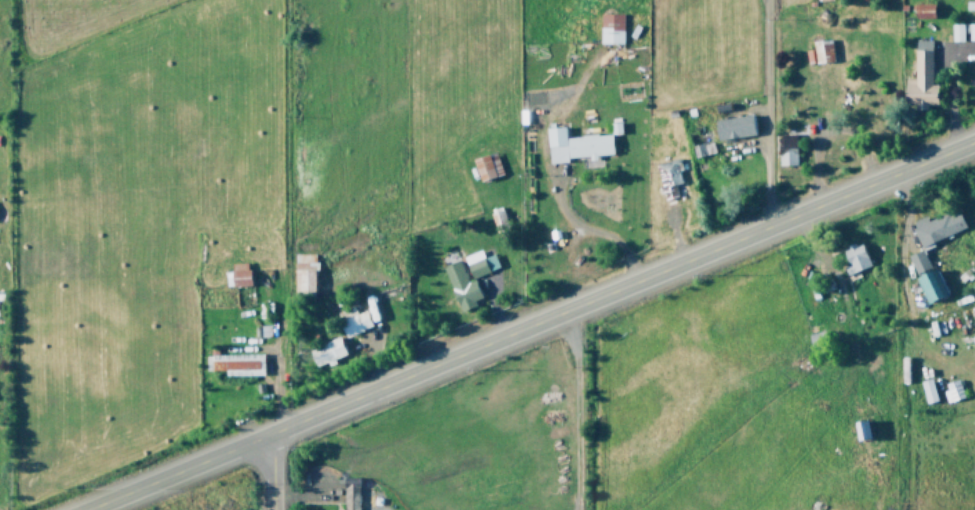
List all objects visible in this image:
building: (970, 5)
building: (922, 10)
building: (610, 28)
building: (956, 31)
building: (970, 31)
building: (822, 50)
building: (920, 79)
building: (733, 126)
road: (659, 135)
building: (575, 146)
building: (786, 149)
building: (486, 166)
building: (668, 176)
building: (499, 218)
building: (935, 227)
building: (854, 258)
building: (917, 261)
building: (479, 263)
building: (236, 274)
building: (303, 274)
building: (460, 286)
building: (931, 286)
building: (354, 323)
road: (530, 324)
building: (326, 351)
building: (234, 363)
building: (927, 391)
road: (269, 472)
building: (350, 484)

